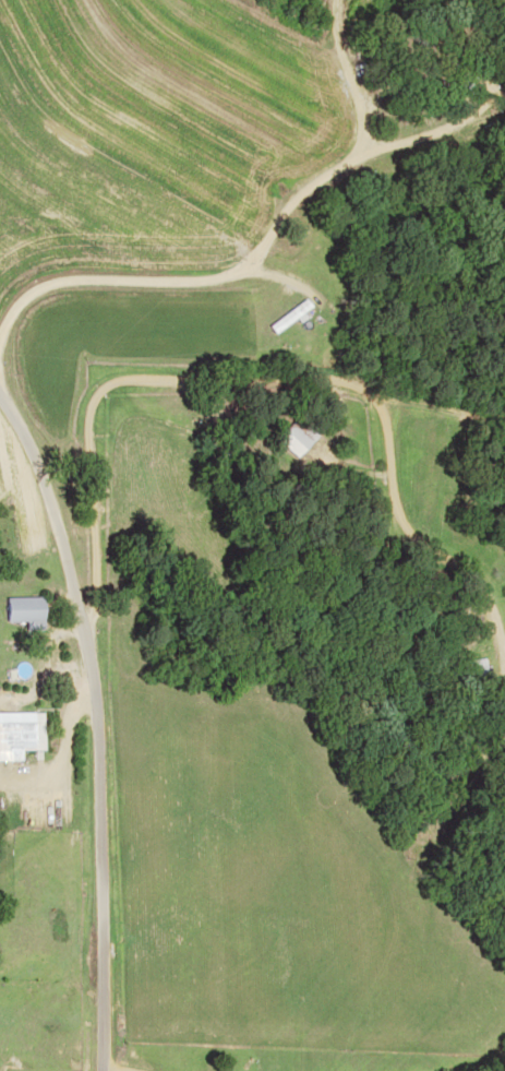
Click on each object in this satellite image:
building: (453, 75)
road: (157, 298)
building: (288, 317)
building: (296, 437)
building: (19, 608)
building: (470, 670)
road: (121, 709)
building: (17, 733)

